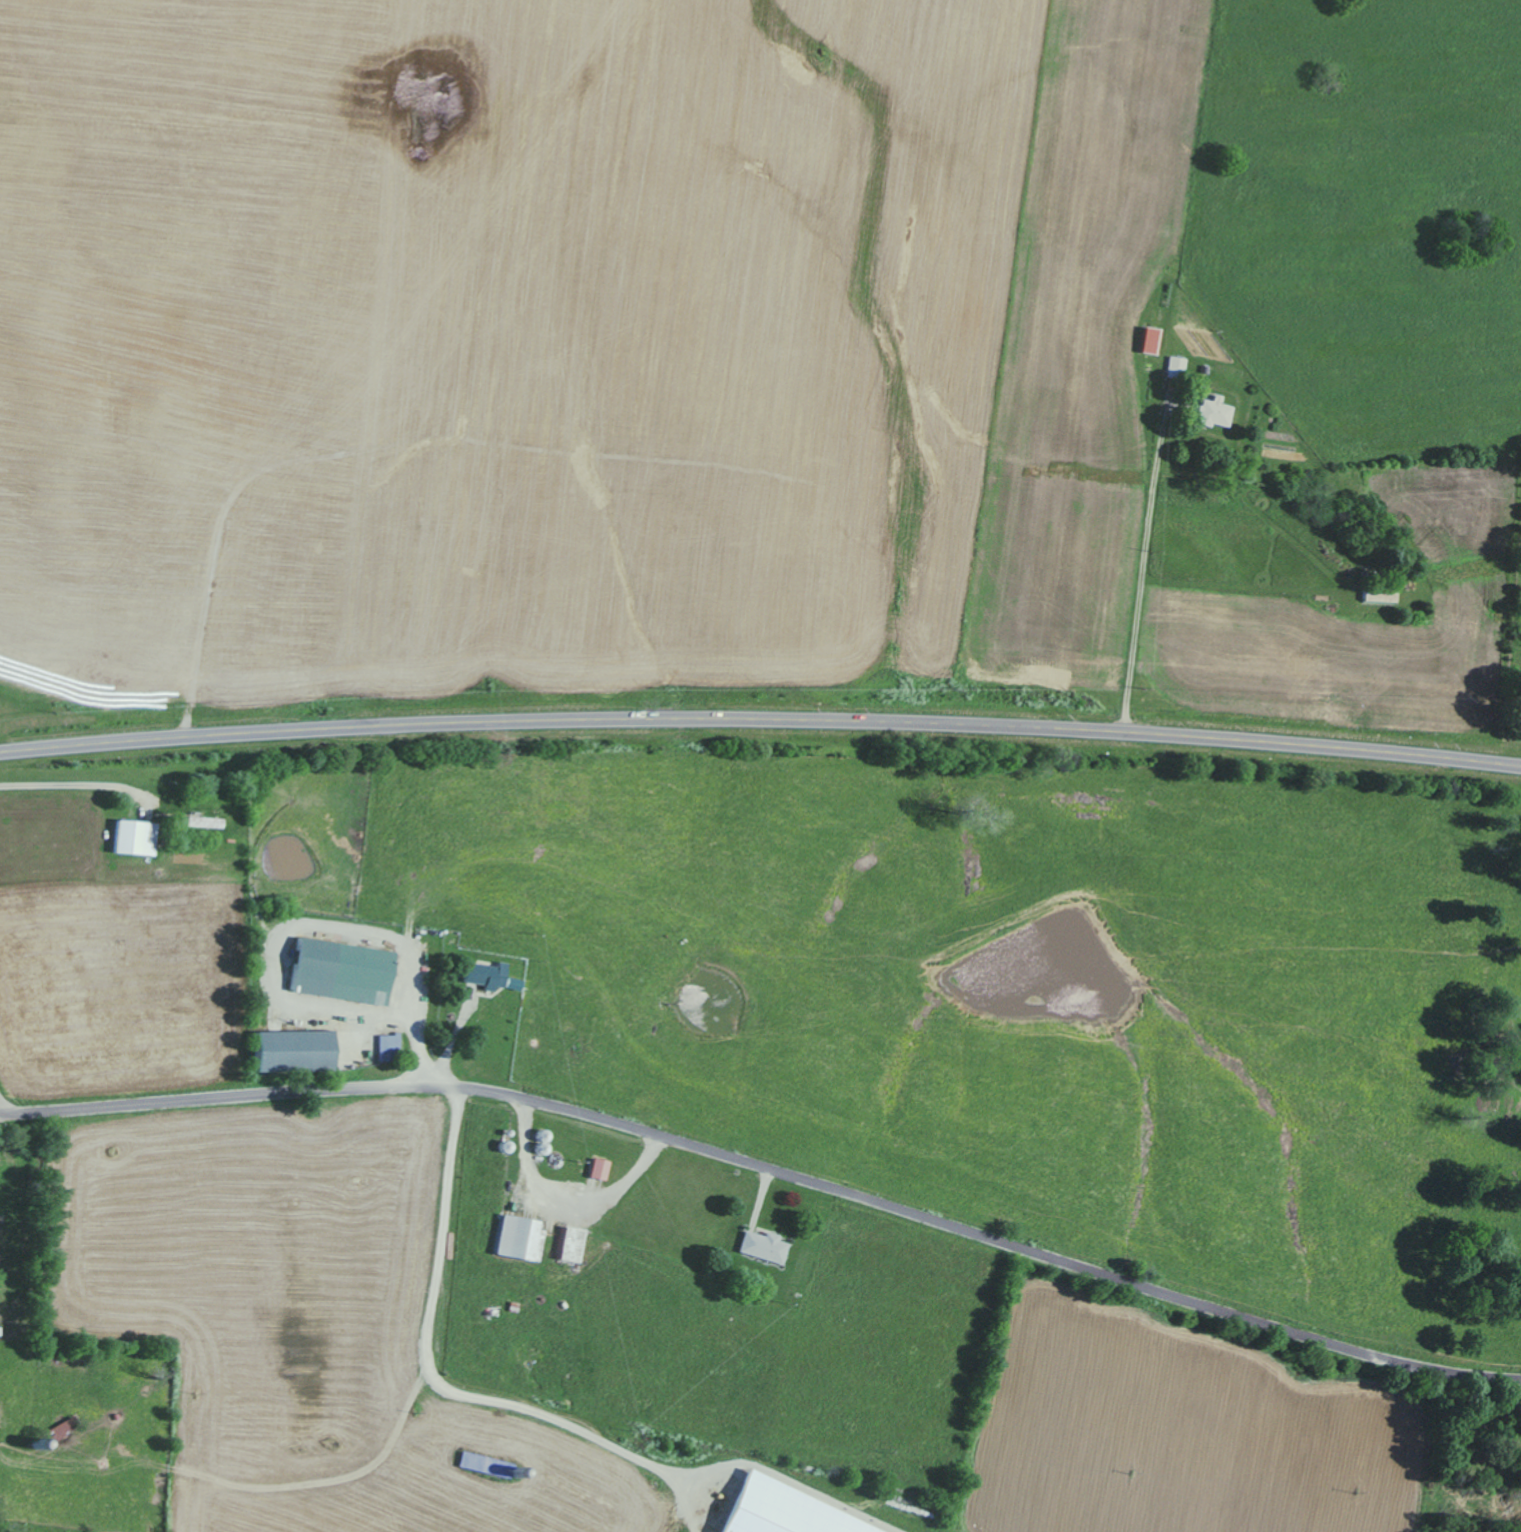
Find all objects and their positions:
building: (1151, 340)
building: (1217, 412)
road: (1144, 568)
building: (1379, 593)
road: (760, 719)
building: (205, 822)
building: (134, 838)
road: (315, 925)
building: (342, 971)
building: (486, 975)
building: (390, 1047)
building: (294, 1051)
road: (0, 1115)
road: (0, 1118)
road: (769, 1168)
building: (600, 1169)
road: (571, 1194)
building: (521, 1239)
building: (574, 1245)
building: (764, 1247)
road: (442, 1387)
building: (61, 1430)
building: (785, 1511)

